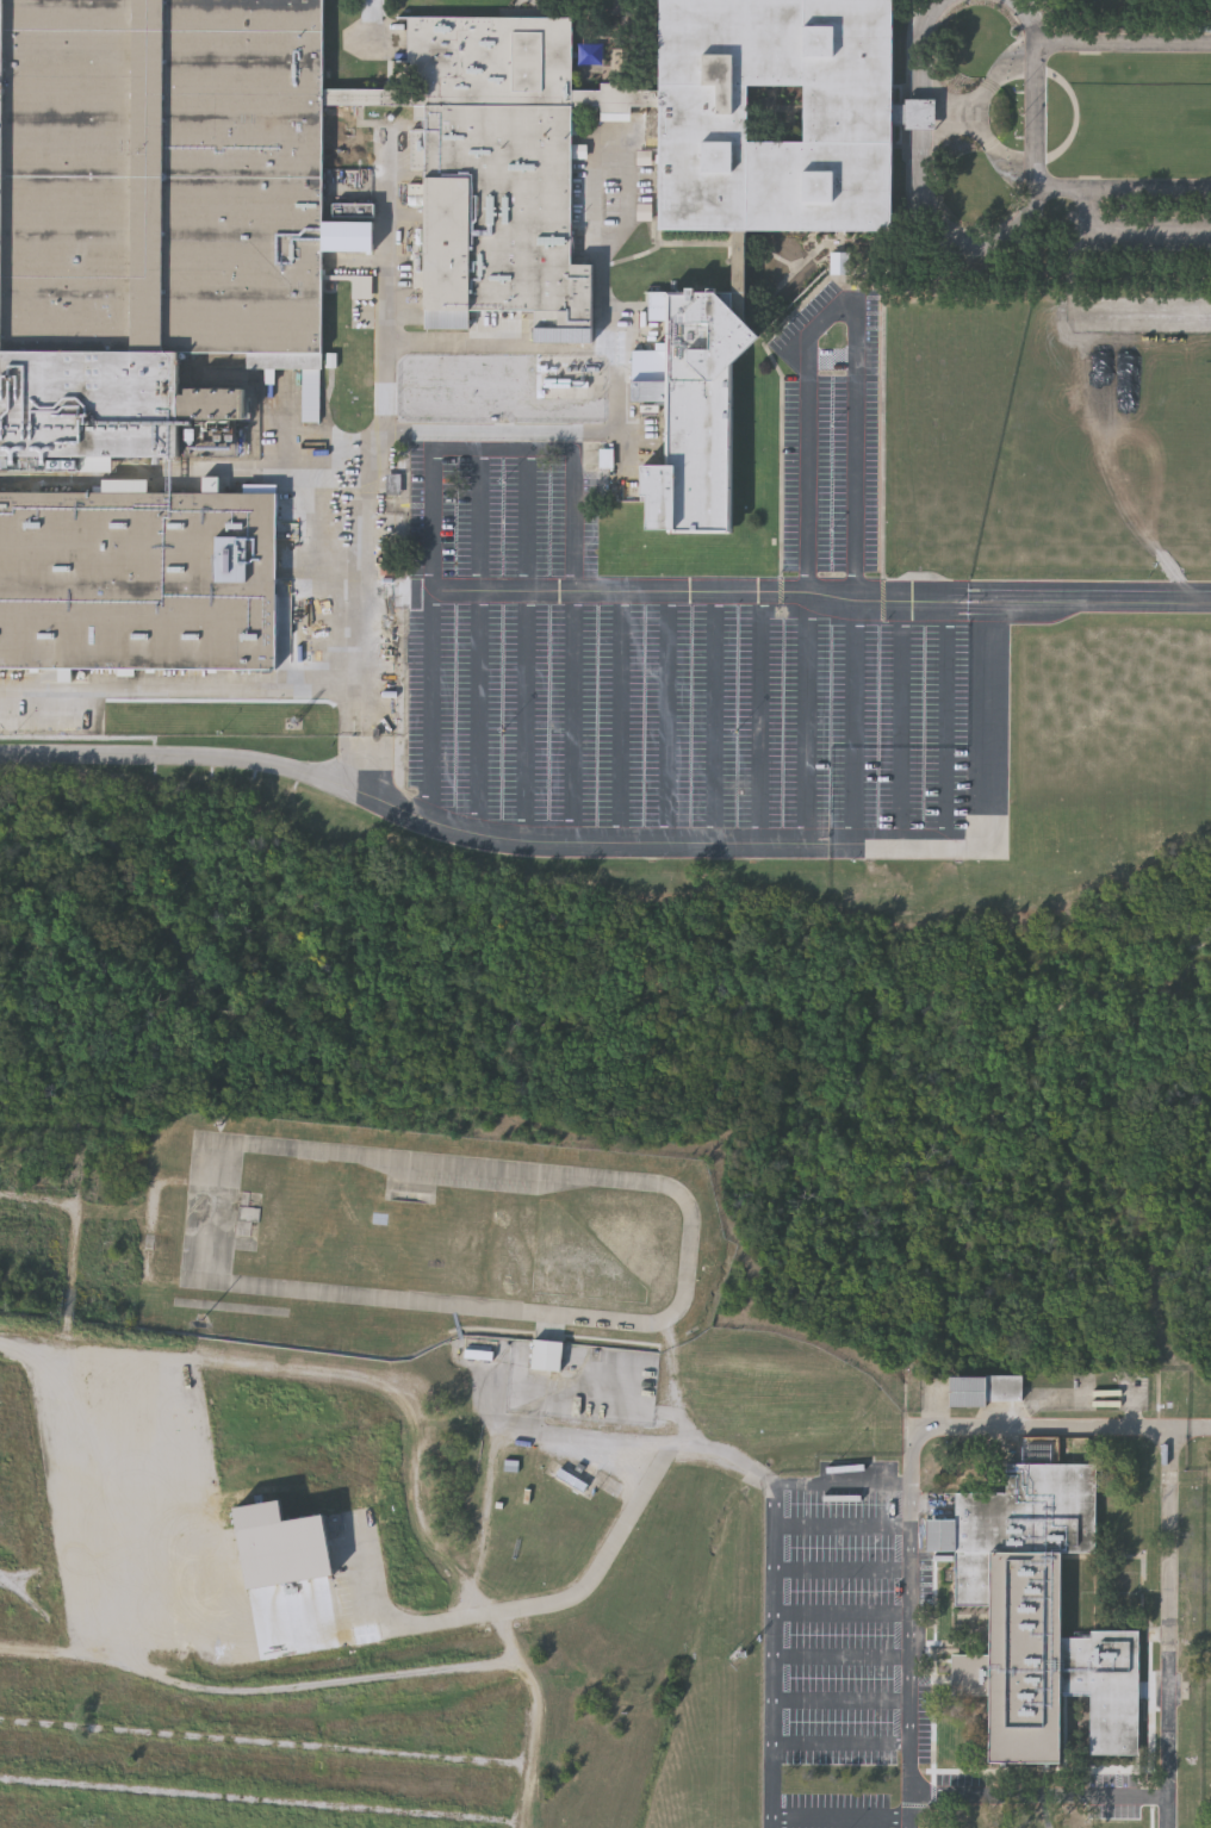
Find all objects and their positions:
road: (377, 20)
building: (776, 110)
road: (1038, 114)
building: (360, 212)
road: (1132, 230)
building: (186, 238)
building: (844, 266)
road: (839, 305)
building: (695, 393)
road: (580, 433)
road: (503, 448)
road: (483, 521)
road: (528, 521)
building: (138, 579)
road: (689, 595)
road: (1089, 597)
road: (218, 686)
road: (431, 707)
road: (480, 714)
road: (526, 716)
road: (575, 717)
road: (622, 719)
road: (670, 719)
road: (715, 720)
road: (760, 720)
road: (807, 720)
road: (856, 721)
road: (902, 721)
road: (948, 721)
road: (985, 725)
road: (477, 833)
building: (552, 1357)
building: (986, 1388)
road: (496, 1442)
building: (575, 1481)
road: (909, 1481)
road: (845, 1527)
building: (1187, 1550)
road: (844, 1571)
road: (776, 1591)
road: (844, 1611)
road: (1165, 1611)
building: (1036, 1615)
helipad: (821, 1629)
road: (342, 1637)
road: (844, 1658)
road: (844, 1700)
road: (534, 1716)
road: (843, 1747)
road: (1038, 1797)
road: (1165, 1813)
road: (843, 1817)

